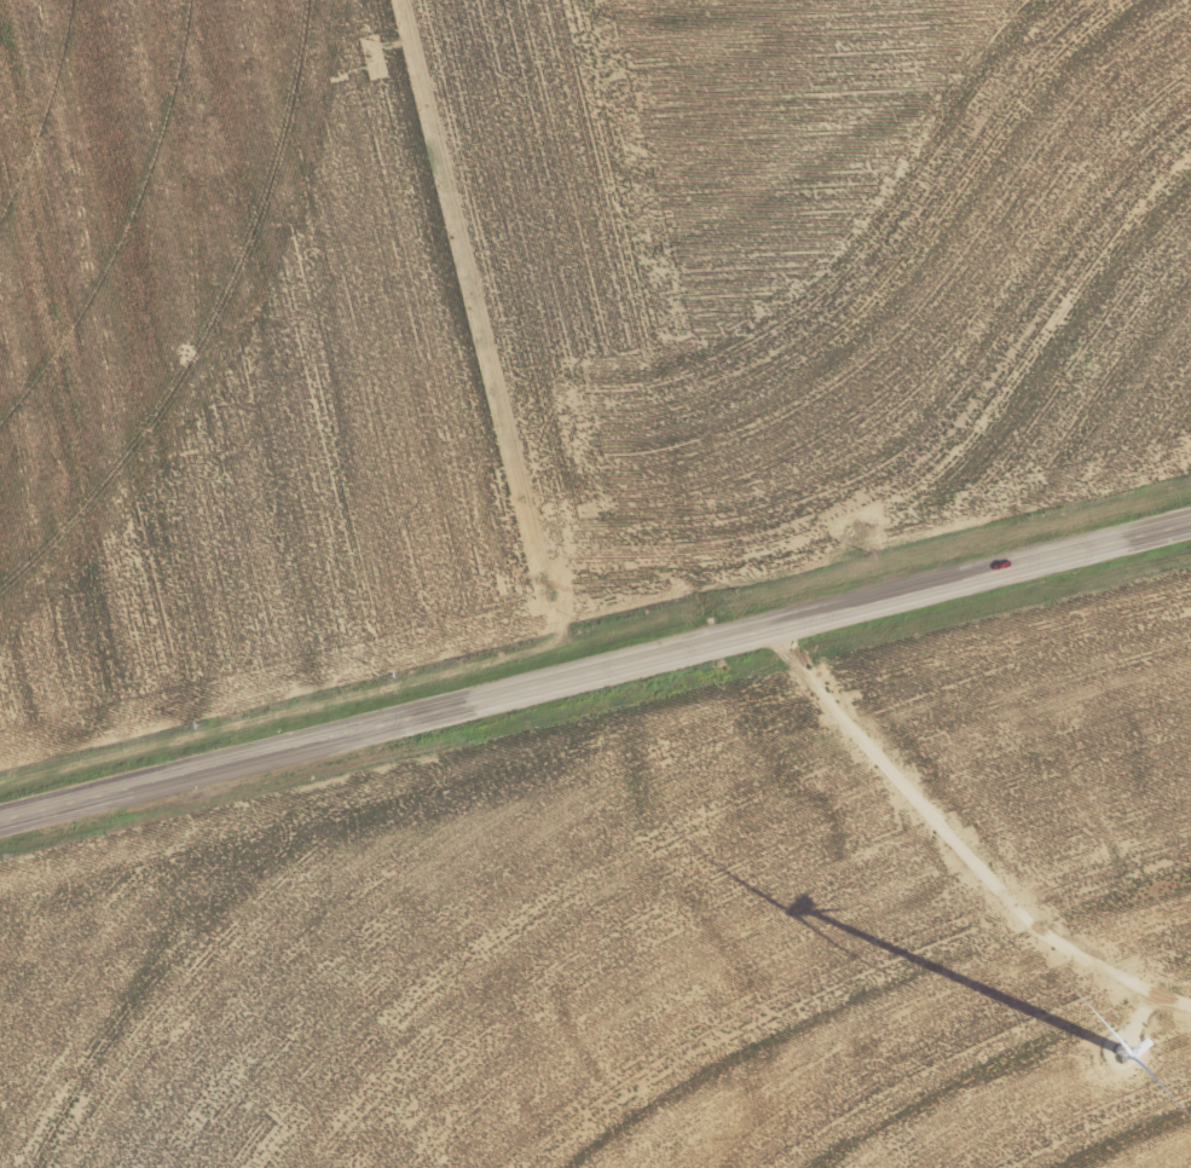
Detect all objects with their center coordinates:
road: (595, 671)
wind turbine: (1103, 1035)

